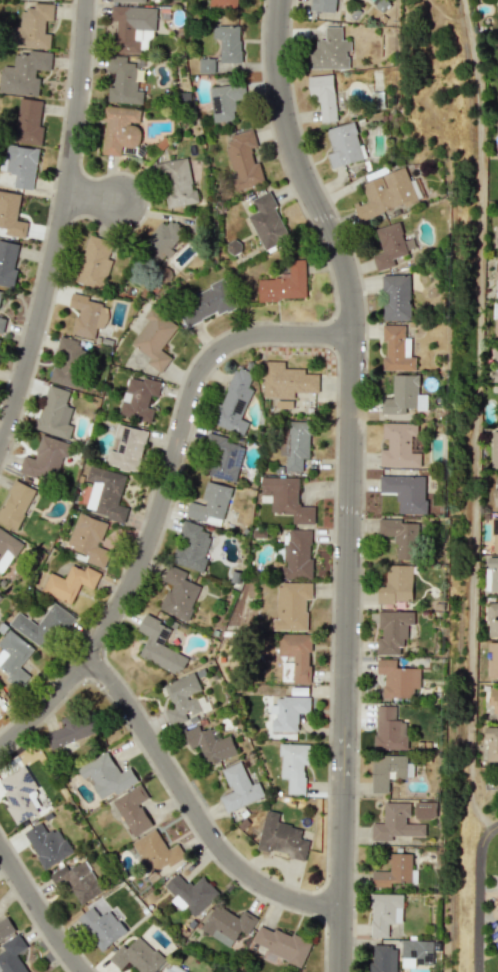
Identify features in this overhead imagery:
building: (129, 0)
building: (497, 1)
building: (223, 3)
building: (323, 5)
building: (33, 27)
building: (132, 27)
building: (228, 42)
building: (329, 51)
building: (206, 65)
building: (23, 73)
building: (123, 81)
building: (323, 95)
building: (225, 101)
rooftop solar panel: (218, 103)
building: (28, 121)
building: (120, 128)
building: (344, 145)
rooftop solar panel: (142, 148)
rooftop solar panel: (132, 149)
building: (243, 159)
building: (20, 165)
building: (176, 183)
building: (385, 194)
road: (93, 198)
building: (11, 215)
building: (267, 222)
road: (59, 228)
building: (161, 239)
building: (389, 246)
building: (7, 263)
building: (94, 263)
building: (496, 271)
building: (284, 284)
building: (0, 292)
building: (396, 297)
building: (205, 304)
building: (87, 315)
building: (497, 319)
building: (2, 324)
building: (155, 337)
building: (397, 348)
building: (69, 349)
building: (495, 364)
building: (65, 376)
building: (287, 381)
building: (401, 396)
building: (139, 398)
building: (234, 402)
building: (422, 402)
building: (284, 403)
rooftop solar panel: (239, 406)
building: (55, 413)
road: (476, 420)
rooftop solar panel: (127, 431)
building: (294, 443)
building: (416, 444)
building: (399, 446)
building: (127, 447)
building: (494, 449)
rooftop solar panel: (120, 452)
building: (223, 458)
building: (45, 459)
rooftop solar panel: (238, 460)
rooftop solar panel: (226, 475)
road: (351, 479)
railway: (464, 485)
building: (406, 492)
building: (106, 493)
building: (495, 497)
building: (285, 498)
road: (163, 501)
building: (15, 504)
building: (210, 504)
building: (495, 535)
building: (401, 537)
building: (90, 539)
building: (191, 546)
building: (7, 549)
building: (296, 555)
building: (491, 574)
building: (70, 583)
building: (396, 584)
building: (178, 593)
building: (0, 596)
building: (292, 605)
building: (492, 618)
building: (42, 626)
building: (393, 631)
rooftop solar panel: (164, 634)
rooftop solar panel: (161, 639)
building: (158, 645)
building: (295, 657)
building: (14, 658)
building: (492, 660)
building: (397, 679)
building: (494, 699)
building: (184, 700)
building: (288, 712)
building: (389, 729)
building: (71, 730)
building: (209, 744)
building: (491, 744)
building: (294, 766)
building: (388, 770)
building: (106, 775)
rooftop solar panel: (29, 776)
rooftop solar panel: (7, 786)
rooftop solar panel: (27, 787)
building: (238, 788)
building: (21, 794)
rooftop solar panel: (12, 799)
rooftop solar panel: (26, 799)
building: (133, 810)
road: (195, 810)
building: (424, 810)
rooftop solar panel: (26, 812)
building: (395, 823)
building: (281, 837)
building: (47, 845)
building: (155, 851)
building: (393, 871)
building: (77, 881)
building: (190, 893)
road: (477, 895)
road: (37, 911)
building: (384, 913)
park: (489, 921)
building: (101, 923)
building: (227, 924)
building: (5, 927)
building: (280, 944)
building: (416, 953)
building: (12, 955)
building: (136, 956)
building: (383, 959)
building: (173, 968)

